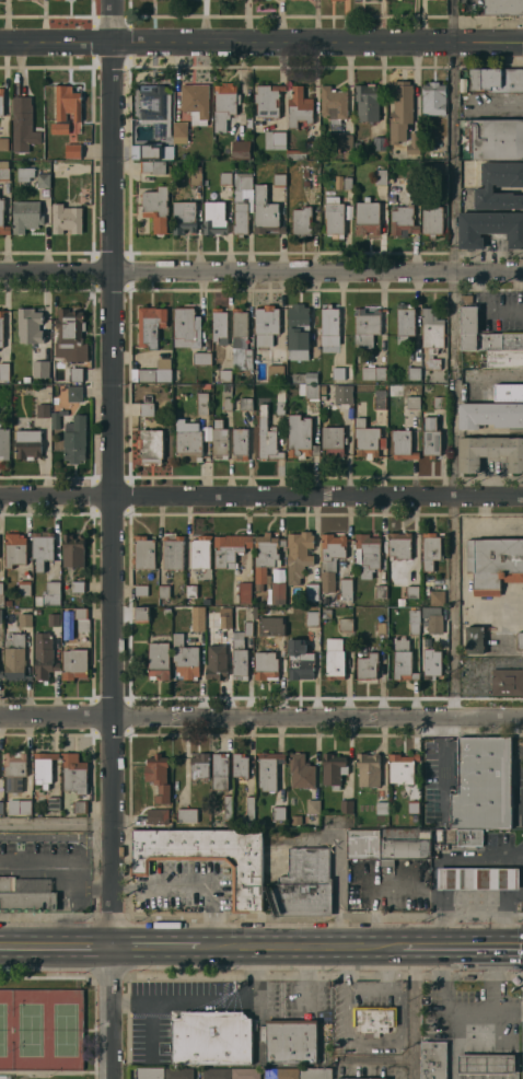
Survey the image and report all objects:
building: (503, 7)
road: (260, 44)
building: (498, 79)
building: (433, 98)
building: (268, 100)
building: (1, 101)
building: (369, 101)
building: (196, 102)
building: (224, 104)
building: (334, 104)
building: (299, 107)
building: (66, 108)
building: (156, 108)
building: (400, 111)
building: (23, 124)
building: (179, 132)
building: (495, 138)
building: (275, 139)
building: (346, 141)
building: (3, 143)
building: (380, 143)
building: (414, 143)
building: (357, 146)
building: (311, 148)
building: (241, 149)
building: (73, 150)
building: (149, 151)
building: (295, 154)
building: (154, 166)
building: (176, 166)
building: (440, 167)
building: (4, 171)
building: (305, 172)
building: (502, 173)
building: (25, 174)
building: (195, 175)
building: (381, 177)
building: (225, 178)
building: (43, 179)
building: (279, 179)
building: (305, 182)
building: (339, 183)
building: (348, 183)
building: (402, 183)
building: (497, 199)
building: (241, 202)
building: (155, 208)
building: (266, 212)
building: (349, 212)
building: (26, 216)
building: (214, 216)
building: (184, 217)
building: (368, 217)
building: (2, 219)
building: (66, 219)
building: (334, 220)
building: (432, 220)
building: (302, 221)
building: (404, 221)
building: (490, 228)
road: (260, 270)
building: (469, 318)
building: (405, 323)
building: (266, 324)
building: (30, 325)
building: (151, 325)
building: (329, 325)
building: (367, 325)
building: (220, 326)
building: (1, 328)
building: (186, 328)
building: (299, 332)
building: (70, 335)
building: (432, 335)
building: (240, 340)
building: (201, 358)
building: (503, 358)
road: (454, 359)
building: (163, 361)
building: (40, 369)
building: (4, 371)
building: (276, 372)
building: (373, 372)
building: (338, 373)
building: (414, 373)
building: (75, 374)
building: (154, 374)
building: (225, 374)
building: (305, 378)
building: (26, 379)
building: (309, 390)
building: (509, 392)
building: (74, 393)
building: (342, 394)
building: (1, 396)
building: (228, 396)
building: (380, 398)
building: (412, 402)
building: (440, 402)
building: (202, 403)
building: (280, 403)
building: (245, 404)
building: (147, 409)
building: (43, 410)
building: (490, 415)
building: (57, 418)
building: (206, 426)
building: (267, 437)
building: (301, 437)
building: (431, 437)
building: (75, 439)
building: (368, 439)
building: (219, 440)
building: (188, 441)
building: (333, 442)
building: (4, 443)
building: (27, 443)
building: (241, 443)
building: (403, 444)
building: (151, 445)
building: (490, 452)
road: (109, 473)
road: (260, 495)
building: (400, 545)
building: (230, 548)
building: (15, 549)
building: (44, 549)
building: (73, 550)
building: (431, 550)
building: (144, 552)
building: (173, 552)
building: (200, 552)
building: (368, 554)
building: (299, 555)
building: (266, 557)
building: (330, 558)
building: (493, 564)
building: (78, 585)
building: (278, 587)
building: (24, 588)
building: (346, 589)
building: (141, 590)
building: (312, 590)
building: (164, 591)
building: (191, 591)
building: (381, 591)
building: (412, 591)
building: (241, 592)
building: (51, 593)
building: (1, 594)
building: (437, 597)
building: (327, 599)
building: (217, 600)
building: (8, 602)
building: (36, 602)
building: (400, 602)
building: (36, 611)
building: (166, 611)
building: (68, 613)
building: (81, 613)
building: (142, 613)
building: (327, 613)
building: (1, 615)
building: (175, 616)
building: (198, 617)
building: (312, 618)
building: (433, 618)
building: (25, 619)
building: (53, 619)
building: (181, 619)
building: (225, 620)
building: (415, 620)
building: (345, 623)
building: (381, 628)
building: (278, 629)
building: (475, 639)
building: (520, 639)
building: (241, 651)
building: (14, 657)
building: (44, 657)
building: (185, 658)
building: (159, 660)
building: (300, 660)
building: (403, 660)
building: (335, 661)
building: (217, 662)
building: (74, 663)
building: (431, 663)
building: (266, 665)
building: (367, 666)
building: (1, 673)
building: (507, 681)
road: (260, 719)
building: (15, 763)
building: (240, 765)
building: (199, 766)
building: (44, 768)
building: (333, 768)
building: (369, 768)
building: (402, 768)
building: (220, 770)
building: (269, 770)
building: (301, 770)
building: (74, 774)
building: (158, 777)
building: (483, 782)
building: (54, 802)
building: (19, 804)
building: (346, 805)
building: (1, 807)
building: (81, 807)
building: (313, 807)
building: (414, 807)
building: (228, 808)
building: (381, 808)
building: (249, 809)
building: (426, 811)
building: (279, 812)
building: (187, 815)
building: (162, 816)
building: (295, 821)
building: (260, 822)
road: (55, 827)
road: (55, 836)
building: (469, 837)
building: (388, 844)
building: (437, 846)
building: (207, 856)
road: (49, 860)
building: (478, 878)
road: (191, 883)
building: (304, 884)
road: (91, 891)
road: (336, 891)
building: (25, 894)
road: (55, 947)
road: (154, 947)
road: (300, 947)
road: (462, 948)
road: (386, 975)
road: (209, 1003)
road: (109, 1012)
road: (414, 1012)
building: (374, 1019)
building: (211, 1037)
road: (350, 1039)
building: (291, 1041)
building: (434, 1059)
road: (376, 1060)
building: (487, 1064)
building: (149, 1072)
building: (314, 1072)
building: (179, 1074)
building: (217, 1074)
building: (246, 1074)
building: (281, 1074)
building: (352, 1078)

